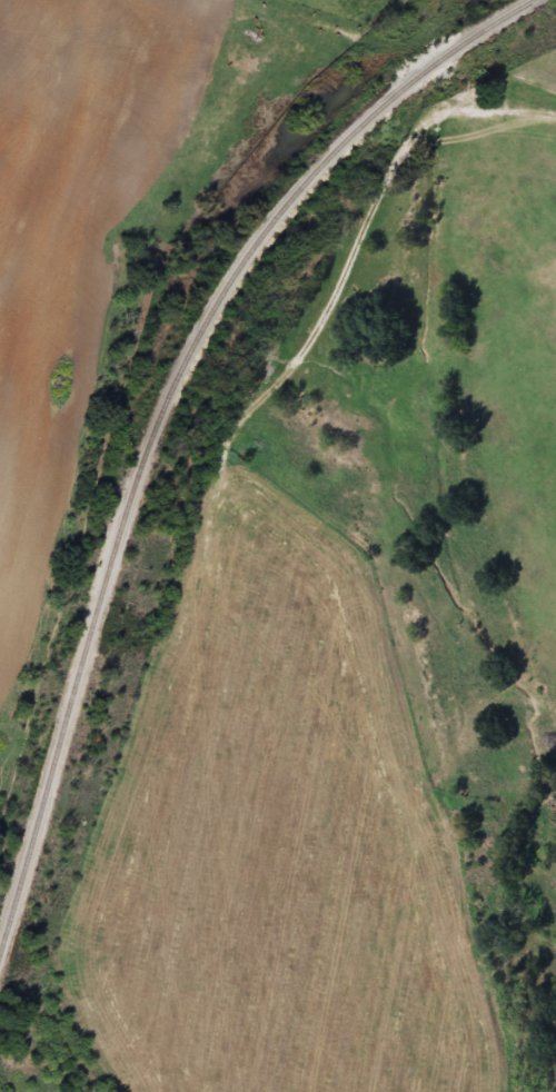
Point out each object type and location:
road: (377, 196)
railway: (163, 413)

